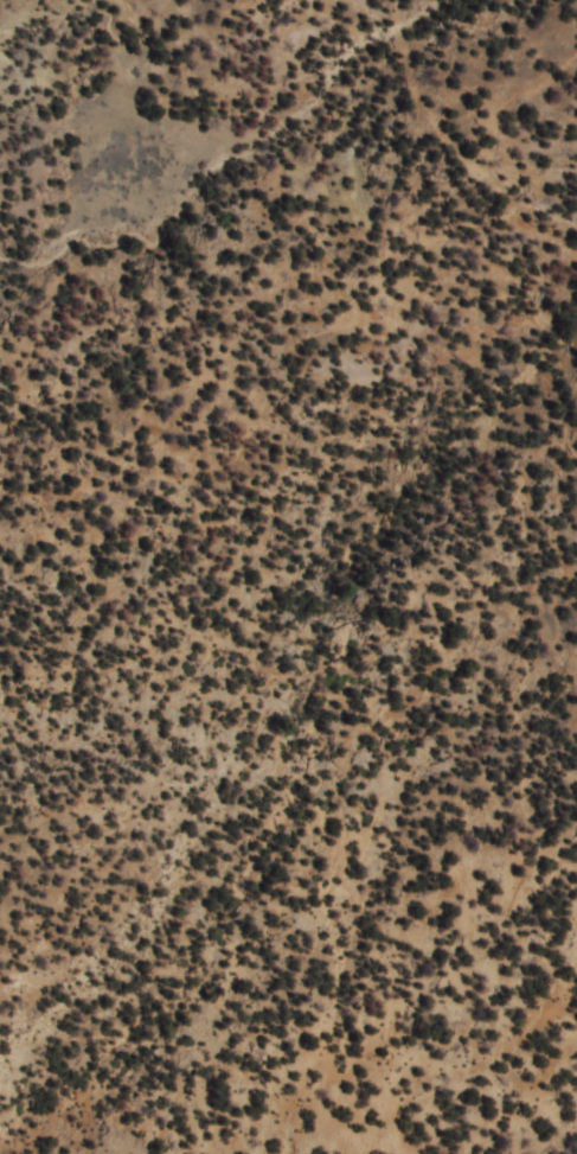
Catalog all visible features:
road: (517, 576)

